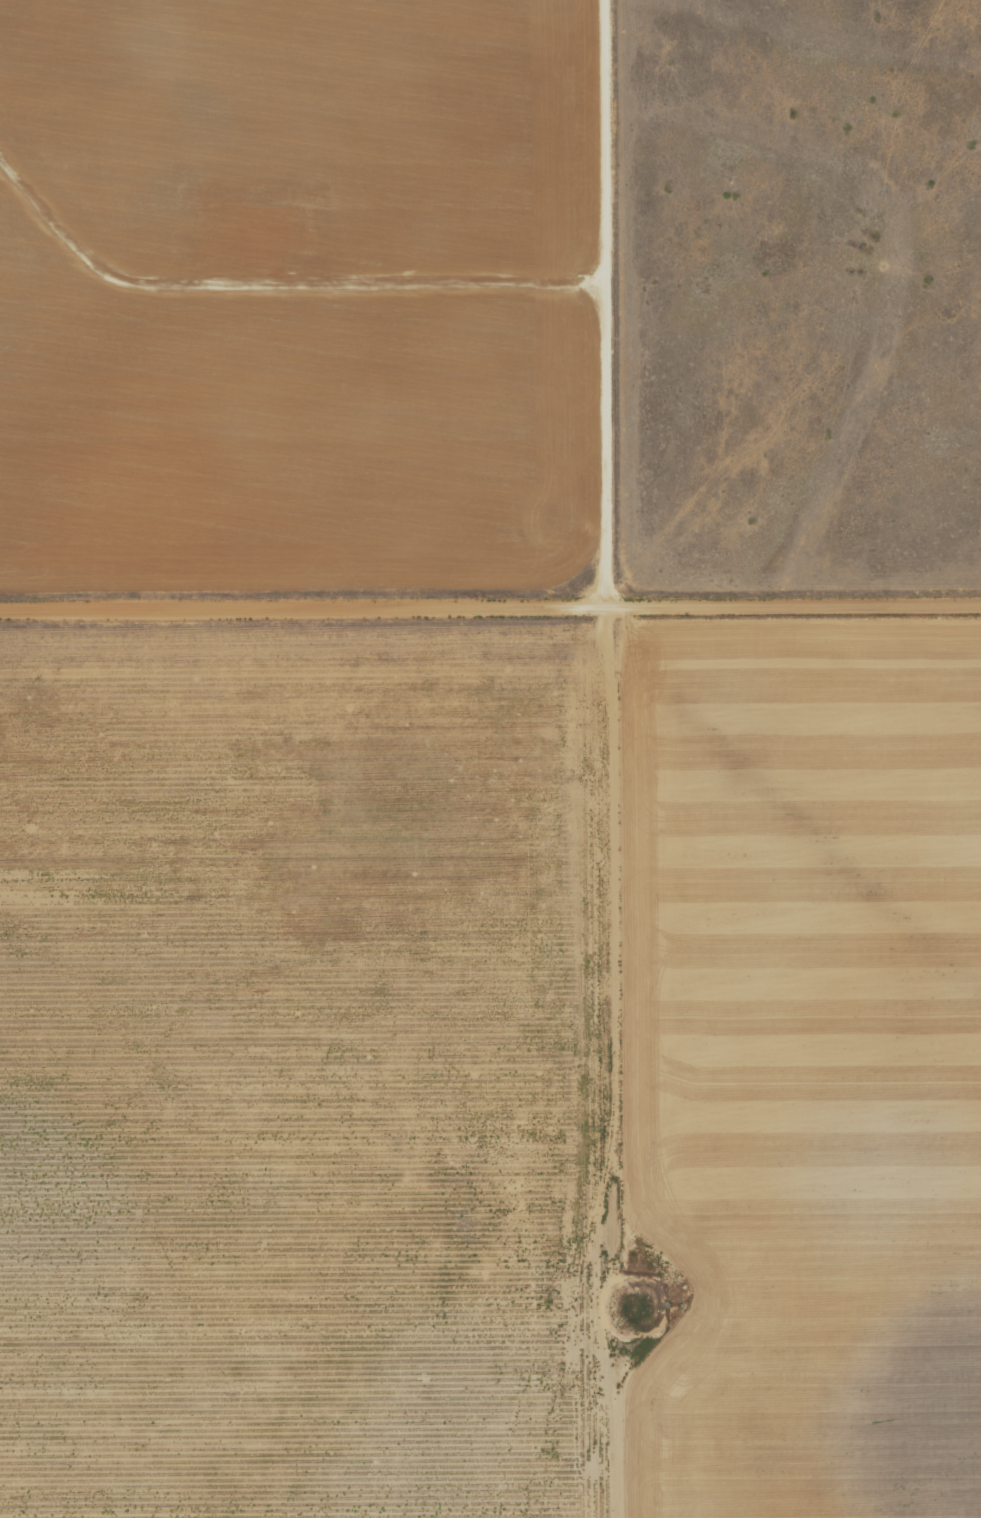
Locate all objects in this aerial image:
road: (610, 303)
road: (490, 606)
road: (613, 1063)

